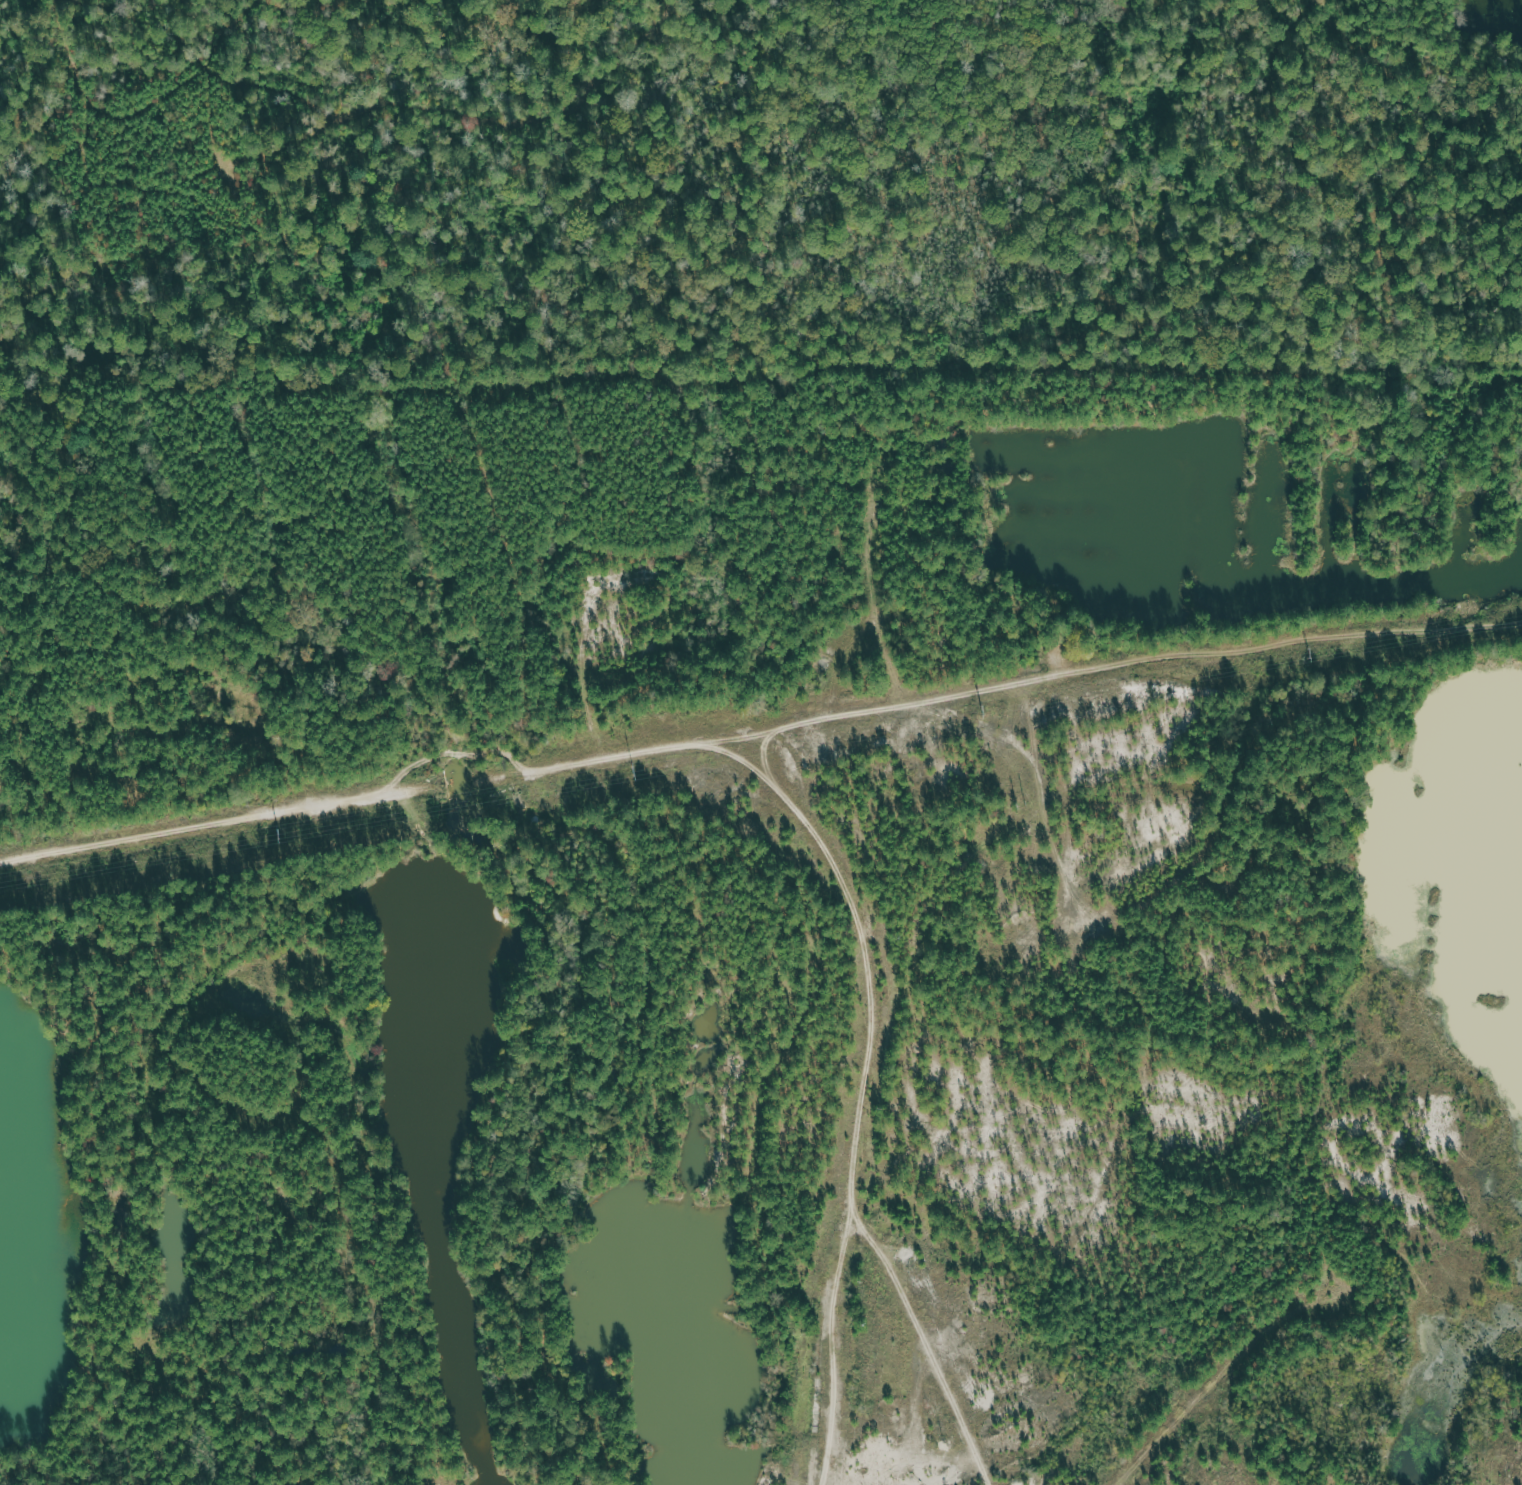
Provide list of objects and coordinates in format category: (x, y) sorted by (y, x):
power tower: (1311, 654)
power tower: (983, 712)
power tower: (637, 772)
power tower: (280, 835)

